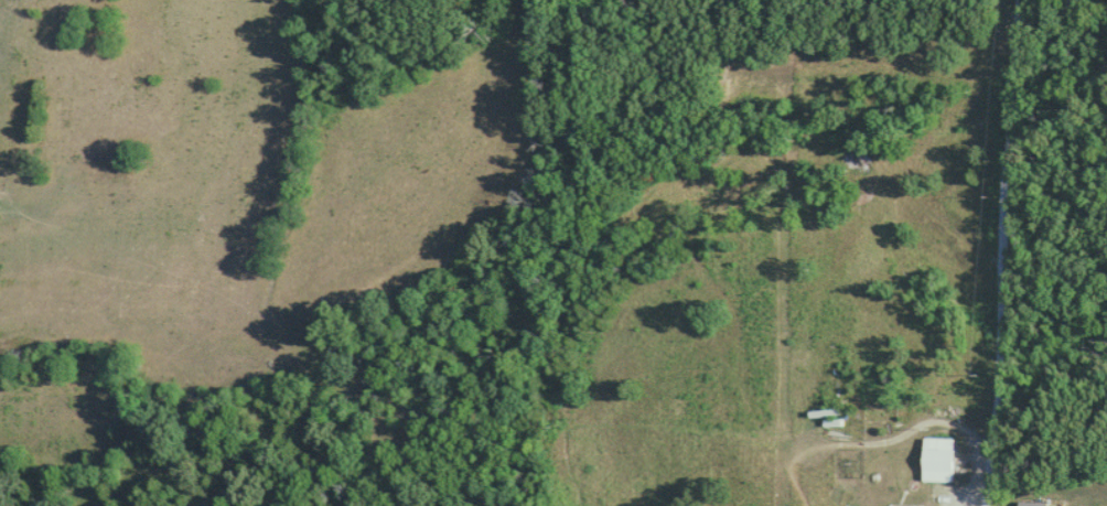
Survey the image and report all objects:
road: (1002, 252)
building: (937, 459)
building: (1032, 503)

